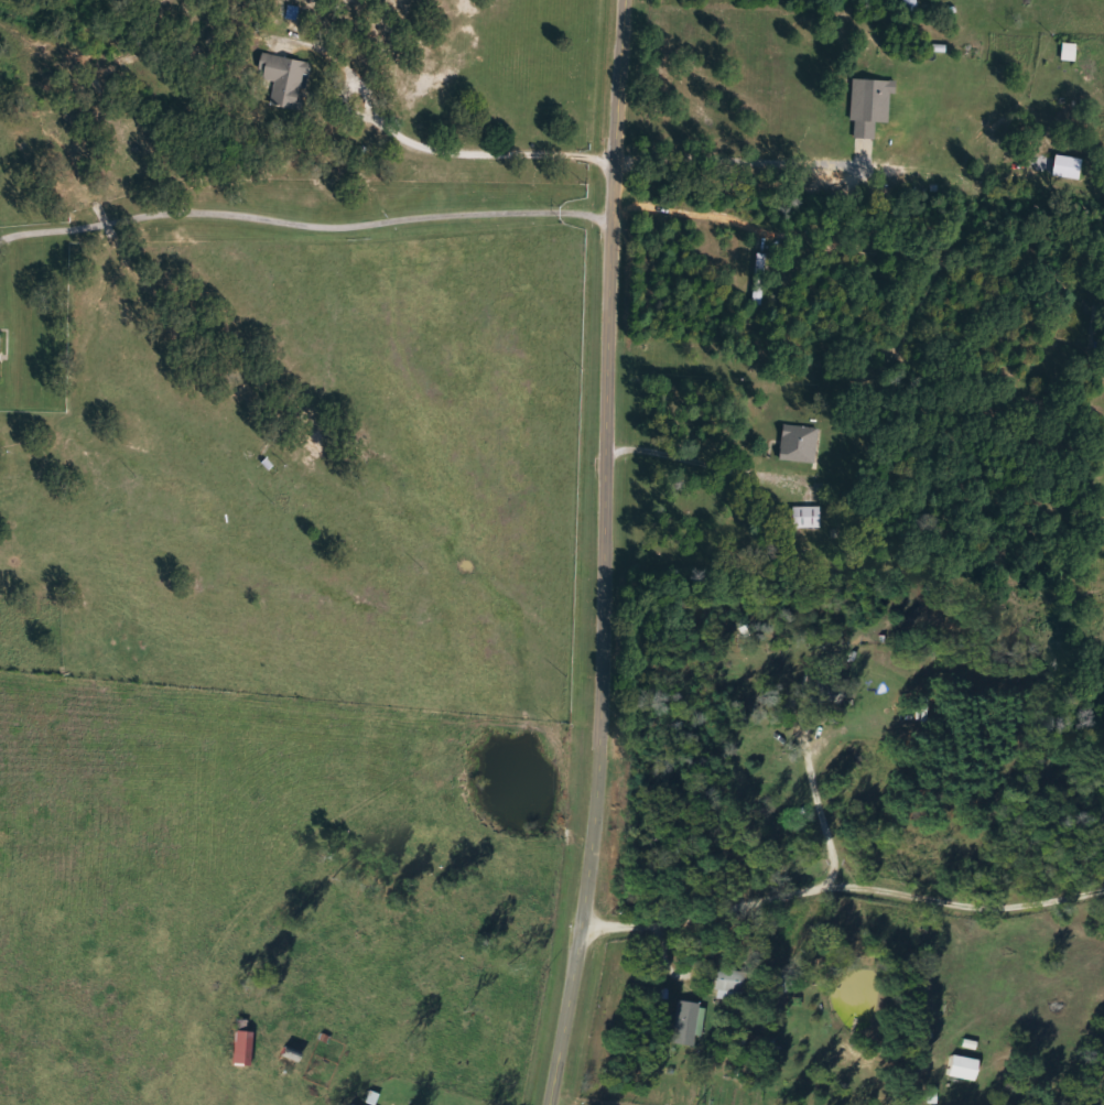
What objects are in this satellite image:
building: (1074, 53)
building: (291, 77)
building: (876, 106)
building: (1073, 167)
building: (764, 279)
building: (2, 358)
building: (803, 446)
building: (812, 518)
road: (607, 554)
building: (833, 693)
road: (816, 825)
building: (686, 1023)
building: (246, 1049)
building: (959, 1068)

